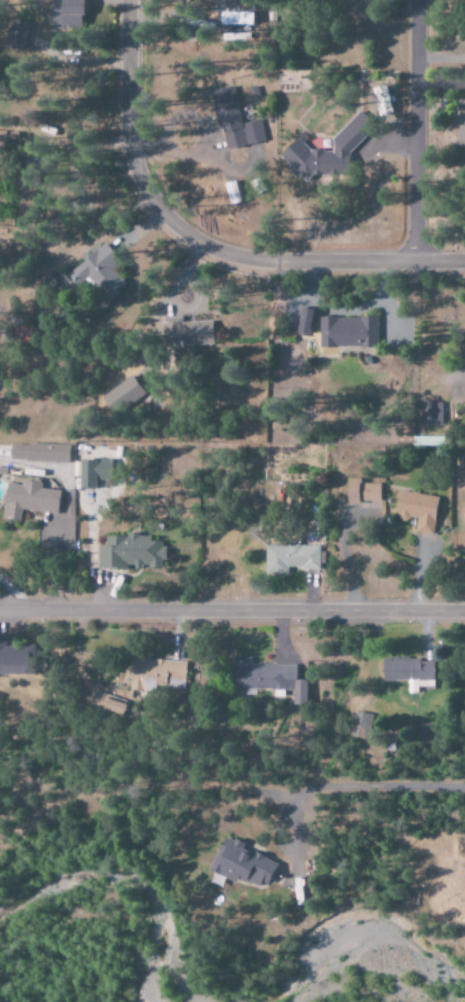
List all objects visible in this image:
building: (70, 13)
building: (17, 34)
building: (381, 100)
building: (234, 122)
road: (415, 130)
building: (323, 153)
road: (199, 242)
building: (98, 272)
building: (305, 321)
building: (346, 331)
building: (186, 332)
building: (24, 333)
building: (428, 413)
building: (38, 452)
building: (92, 472)
building: (361, 492)
building: (27, 499)
building: (417, 510)
building: (129, 552)
building: (290, 557)
road: (232, 612)
building: (15, 658)
building: (409, 671)
building: (156, 673)
building: (266, 678)
building: (107, 703)
building: (361, 725)
building: (240, 864)

